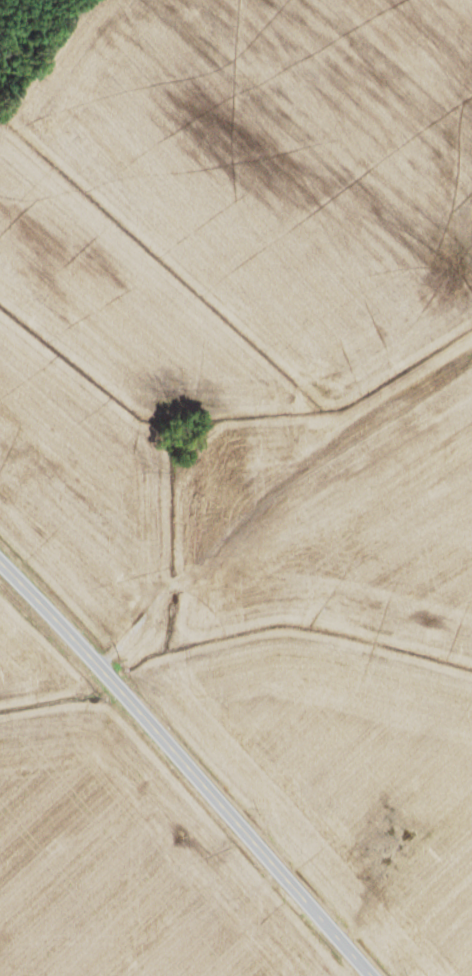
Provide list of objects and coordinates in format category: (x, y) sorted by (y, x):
road: (266, 468)
road: (186, 767)

